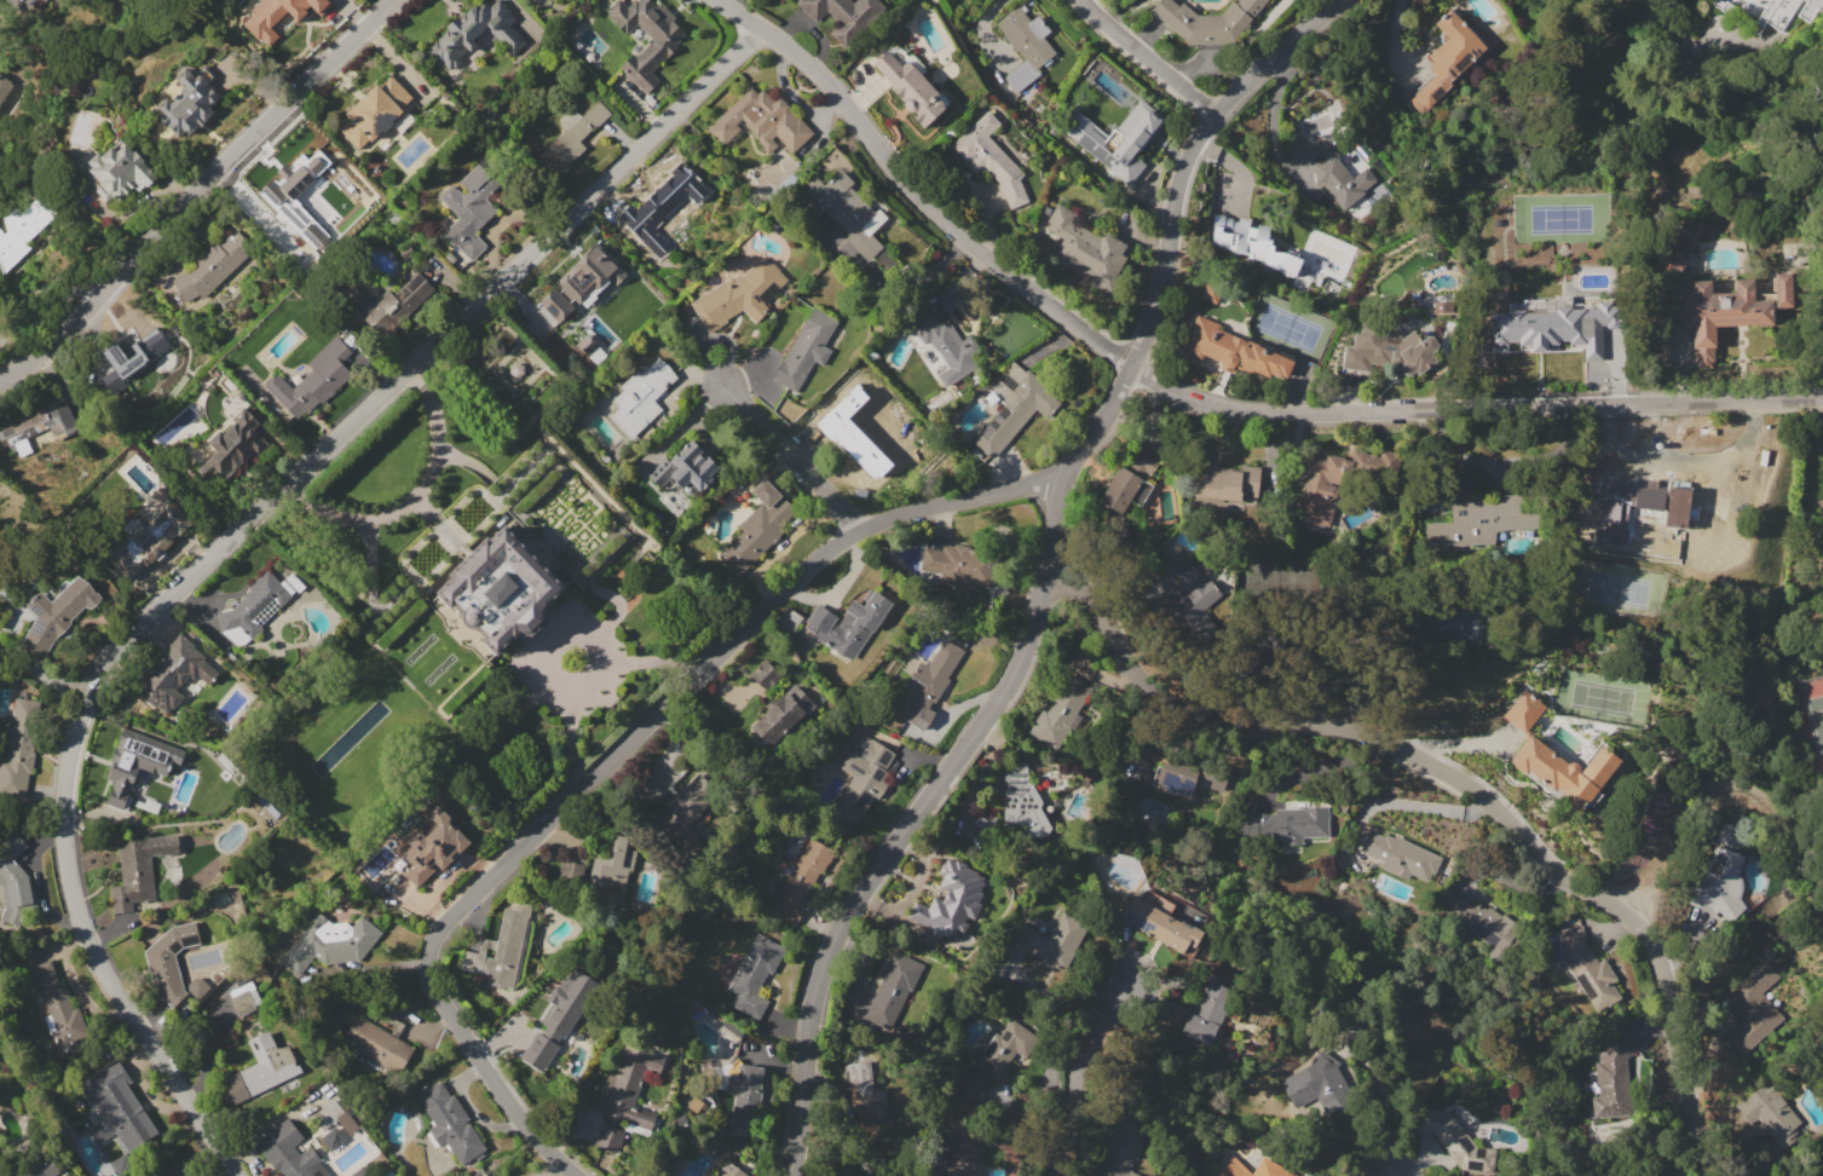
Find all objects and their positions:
building: (47, 0)
building: (843, 15)
building: (1775, 15)
building: (281, 16)
building: (1207, 21)
building: (475, 31)
building: (1025, 46)
building: (658, 50)
road: (1144, 60)
building: (1447, 60)
building: (4, 85)
building: (911, 87)
building: (190, 102)
building: (374, 110)
building: (761, 121)
building: (575, 138)
building: (1118, 138)
building: (990, 158)
building: (1328, 167)
building: (116, 173)
road: (196, 190)
building: (306, 196)
building: (469, 203)
building: (660, 211)
building: (848, 219)
building: (22, 232)
building: (1248, 242)
building: (1084, 248)
building: (1674, 261)
building: (213, 265)
building: (583, 279)
building: (739, 294)
building: (387, 301)
building: (1440, 306)
building: (1726, 311)
building: (1546, 327)
building: (146, 347)
building: (573, 347)
building: (948, 347)
building: (804, 350)
building: (1233, 351)
building: (1388, 351)
building: (313, 379)
building: (870, 380)
building: (642, 396)
road: (1196, 399)
building: (1015, 408)
road: (819, 415)
building: (827, 426)
building: (39, 428)
building: (869, 434)
building: (232, 445)
road: (791, 459)
building: (685, 469)
building: (1130, 479)
building: (1224, 483)
building: (1320, 485)
building: (1720, 491)
road: (414, 500)
building: (1661, 503)
building: (1482, 518)
building: (760, 526)
building: (151, 535)
road: (225, 541)
building: (960, 565)
road: (1045, 577)
building: (1192, 586)
building: (501, 589)
building: (254, 607)
building: (54, 616)
building: (848, 623)
road: (570, 659)
building: (172, 673)
building: (765, 674)
building: (929, 684)
building: (1061, 711)
building: (781, 715)
building: (19, 748)
road: (615, 753)
building: (1556, 759)
building: (133, 766)
building: (1184, 776)
building: (863, 777)
road: (1465, 784)
road: (1723, 784)
building: (647, 790)
building: (690, 802)
building: (1022, 802)
building: (1286, 825)
building: (429, 847)
building: (1400, 855)
building: (611, 861)
building: (139, 869)
building: (569, 871)
building: (12, 878)
building: (801, 878)
building: (1720, 884)
building: (951, 900)
building: (1152, 921)
building: (1700, 921)
building: (1487, 927)
building: (1052, 940)
building: (331, 945)
building: (501, 949)
building: (168, 961)
building: (1588, 970)
building: (754, 975)
building: (898, 976)
building: (243, 999)
building: (58, 1008)
building: (1753, 1009)
building: (1207, 1011)
building: (560, 1015)
building: (376, 1044)
building: (1006, 1047)
building: (266, 1065)
building: (1615, 1076)
road: (1078, 1078)
building: (1317, 1083)
building: (971, 1090)
building: (623, 1093)
building: (744, 1093)
building: (875, 1101)
road: (1388, 1102)
building: (115, 1105)
building: (1772, 1113)
building: (336, 1116)
building: (644, 1118)
building: (449, 1122)
building: (369, 1141)
building: (1455, 1141)
building: (1120, 1145)
building: (290, 1151)
building: (964, 1158)
building: (1268, 1164)
building: (36, 1169)
building: (729, 1170)
building: (518, 1175)
building: (1599, 1175)

